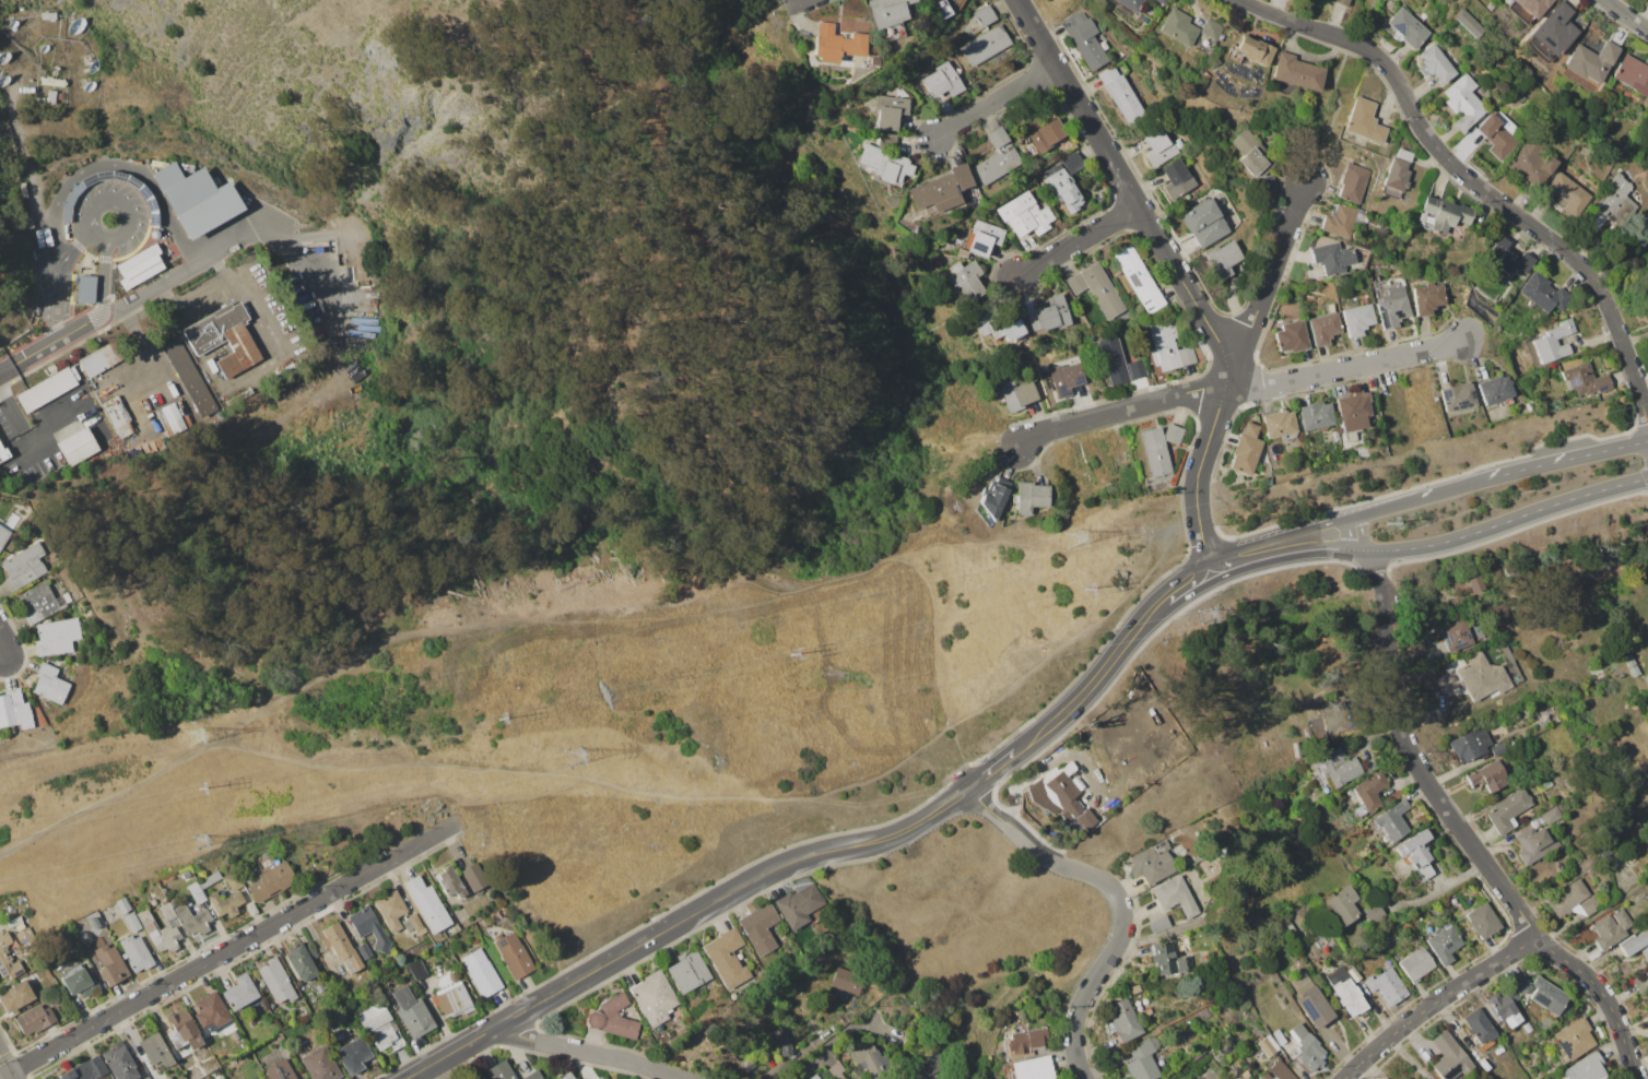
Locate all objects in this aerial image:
building: (1163, 1)
road: (772, 2)
road: (790, 2)
building: (1341, 2)
building: (1131, 4)
park: (8, 7)
building: (942, 8)
building: (1527, 9)
building: (888, 12)
road: (1629, 13)
building: (49, 15)
building: (985, 15)
building: (1179, 27)
building: (1406, 28)
building: (1211, 29)
building: (1552, 34)
building: (1083, 41)
building: (837, 44)
building: (986, 46)
building: (1253, 50)
building: (1591, 61)
building: (1436, 63)
building: (1296, 72)
building: (1633, 74)
building: (943, 81)
building: (52, 82)
building: (1121, 94)
building: (51, 96)
building: (61, 96)
road: (1335, 96)
building: (1463, 103)
road: (1000, 106)
building: (891, 109)
park: (459, 114)
building: (1364, 121)
building: (1044, 133)
building: (1498, 134)
building: (1158, 146)
building: (1248, 152)
building: (997, 158)
building: (885, 159)
road: (115, 163)
building: (1072, 163)
building: (1532, 163)
building: (1397, 174)
road: (1463, 176)
building: (1176, 179)
building: (1352, 182)
building: (1266, 183)
building: (1062, 188)
building: (942, 189)
road: (1135, 190)
building: (1569, 193)
road: (130, 194)
building: (1615, 194)
building: (149, 199)
building: (196, 199)
building: (1025, 214)
building: (1441, 214)
building: (1341, 220)
building: (1204, 223)
building: (981, 239)
road: (96, 244)
road: (1085, 245)
road: (286, 250)
building: (1332, 257)
building: (1509, 258)
building: (1223, 259)
park: (17, 260)
road: (220, 265)
building: (139, 266)
road: (1273, 274)
building: (1138, 278)
building: (964, 280)
road: (59, 282)
road: (158, 284)
road: (105, 285)
building: (1096, 288)
building: (83, 289)
building: (1543, 293)
building: (1427, 297)
building: (1646, 297)
road: (733, 298)
building: (1392, 307)
road: (263, 313)
building: (1049, 315)
building: (1357, 319)
building: (1000, 323)
building: (1323, 328)
building: (224, 337)
building: (1291, 337)
road: (58, 340)
building: (1554, 343)
building: (1169, 346)
road: (145, 348)
building: (103, 357)
building: (1119, 361)
building: (180, 363)
road: (7, 368)
road: (1347, 370)
building: (1064, 378)
building: (1584, 380)
building: (47, 389)
building: (1496, 391)
building: (1017, 395)
building: (1457, 396)
road: (1125, 412)
building: (1353, 413)
building: (1316, 415)
building: (119, 416)
building: (174, 417)
building: (1279, 424)
road: (16, 427)
building: (78, 447)
building: (1160, 448)
building: (1246, 449)
building: (3, 454)
road: (1566, 459)
building: (1264, 465)
road: (1199, 476)
building: (1029, 497)
road: (1420, 498)
building: (992, 499)
road: (1506, 521)
power tower: (1384, 527)
road: (1355, 534)
building: (3, 536)
road: (1280, 536)
power tower: (1069, 537)
road: (164, 545)
road: (1286, 553)
building: (24, 566)
road: (918, 567)
road: (1191, 584)
building: (1464, 588)
power tower: (1083, 589)
building: (39, 603)
road: (1382, 613)
power tower: (1203, 614)
road: (443, 627)
building: (1456, 635)
building: (57, 637)
road: (5, 640)
power tower: (791, 654)
road: (1121, 656)
building: (1628, 659)
building: (1481, 677)
building: (1646, 679)
building: (50, 684)
building: (1590, 696)
road: (1392, 702)
building: (14, 710)
power tower: (498, 720)
building: (1323, 724)
road: (1044, 730)
power tower: (196, 737)
building: (1470, 744)
road: (1406, 747)
building: (1498, 749)
power tower: (576, 759)
building: (1339, 766)
road: (991, 769)
building: (1488, 776)
building: (1543, 780)
power tower: (199, 787)
road: (632, 788)
building: (1369, 790)
building: (1061, 792)
road: (1436, 797)
building: (1507, 810)
building: (1581, 811)
building: (1626, 814)
building: (1551, 816)
building: (1088, 817)
road: (922, 818)
building: (1391, 820)
road: (1011, 828)
road: (1467, 840)
power tower: (202, 842)
building: (1532, 844)
road: (409, 850)
building: (1609, 851)
building: (1416, 852)
building: (1219, 855)
building: (1629, 857)
building: (305, 858)
building: (1153, 862)
building: (1559, 868)
road: (1085, 873)
building: (186, 875)
building: (474, 877)
building: (234, 880)
building: (271, 881)
building: (450, 882)
building: (202, 886)
building: (1177, 897)
road: (1507, 897)
building: (1568, 897)
building: (225, 903)
building: (122, 904)
building: (427, 904)
building: (1340, 904)
building: (1590, 904)
building: (797, 905)
building: (390, 909)
building: (1372, 913)
road: (1597, 913)
building: (192, 920)
building: (98, 921)
building: (1483, 921)
building: (131, 922)
building: (149, 924)
building: (413, 924)
building: (1161, 925)
building: (757, 927)
building: (369, 928)
building: (1611, 929)
building: (25, 935)
building: (442, 942)
building: (1444, 944)
building: (1636, 944)
road: (635, 947)
building: (341, 948)
building: (311, 950)
building: (364, 950)
building: (1304, 950)
building: (137, 953)
building: (514, 953)
road: (1557, 954)
building: (123, 957)
building: (1163, 958)
building: (7, 959)
building: (727, 959)
building: (301, 962)
building: (109, 964)
building: (1184, 964)
building: (1416, 964)
building: (417, 969)
building: (482, 972)
building: (687, 972)
road: (184, 974)
road: (1091, 979)
building: (1640, 980)
building: (78, 981)
building: (275, 981)
building: (848, 981)
building: (1385, 982)
building: (1521, 983)
building: (298, 984)
road: (1593, 984)
building: (1134, 987)
building: (1346, 991)
building: (238, 992)
building: (1547, 996)
building: (15, 997)
building: (652, 997)
building: (454, 1000)
road: (1435, 1001)
building: (1314, 1007)
building: (1505, 1007)
building: (210, 1011)
building: (412, 1012)
building: (612, 1018)
building: (34, 1020)
building: (1125, 1020)
building: (251, 1023)
building: (379, 1025)
building: (1479, 1025)
building: (184, 1030)
building: (220, 1032)
road: (838, 1032)
building: (234, 1035)
building: (1279, 1036)
building: (1573, 1039)
road: (1621, 1039)
building: (1024, 1040)
building: (784, 1041)
building: (302, 1042)
building: (1268, 1045)
building: (305, 1046)
building: (1307, 1047)
building: (154, 1050)
road: (574, 1051)
building: (352, 1055)
building: (1199, 1056)
building: (1449, 1056)
building: (867, 1057)
building: (1142, 1060)
building: (119, 1062)
road: (4, 1064)
building: (320, 1064)
building: (933, 1067)
building: (1033, 1068)
building: (1585, 1068)
building: (85, 1069)
building: (279, 1070)
building: (499, 1070)
building: (836, 1070)
building: (1235, 1071)
building: (1278, 1071)
road: (664, 1075)
road: (10, 1076)
building: (532, 1076)
building: (566, 1076)
building: (814, 1077)
building: (167, 1078)
building: (600, 1078)
building: (1384, 1078)
building: (1408, 1078)
building: (1424, 1078)

